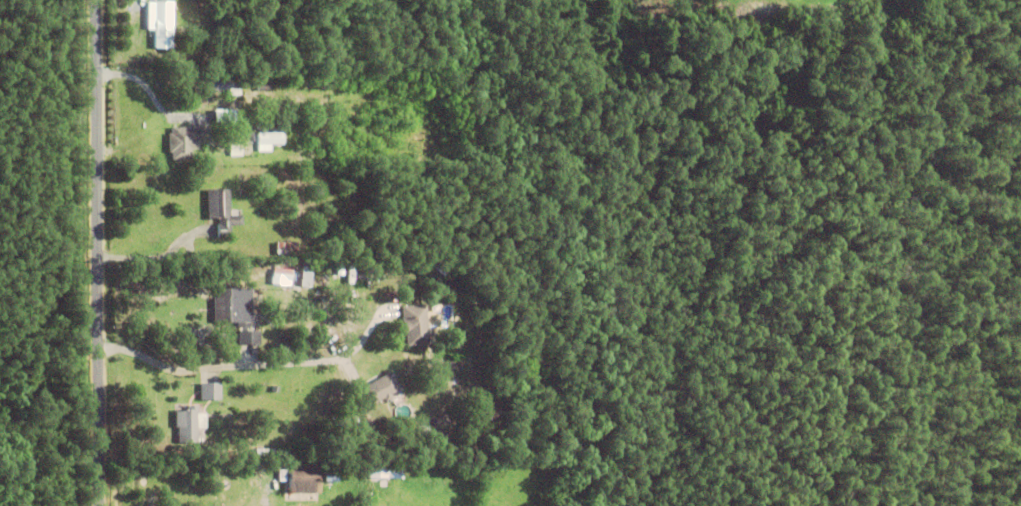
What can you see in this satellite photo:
building: (163, 24)
building: (250, 56)
building: (342, 72)
building: (286, 73)
building: (230, 84)
building: (264, 86)
building: (265, 103)
building: (237, 118)
building: (247, 130)
building: (268, 141)
building: (179, 142)
building: (236, 151)
building: (231, 160)
building: (221, 211)
building: (286, 248)
road: (97, 252)
building: (442, 267)
building: (286, 275)
building: (305, 280)
building: (237, 313)
building: (414, 325)
road: (251, 368)
building: (378, 390)
building: (210, 392)
building: (189, 425)
building: (423, 431)
building: (261, 453)
building: (383, 472)
building: (282, 475)
building: (332, 475)
building: (303, 481)

